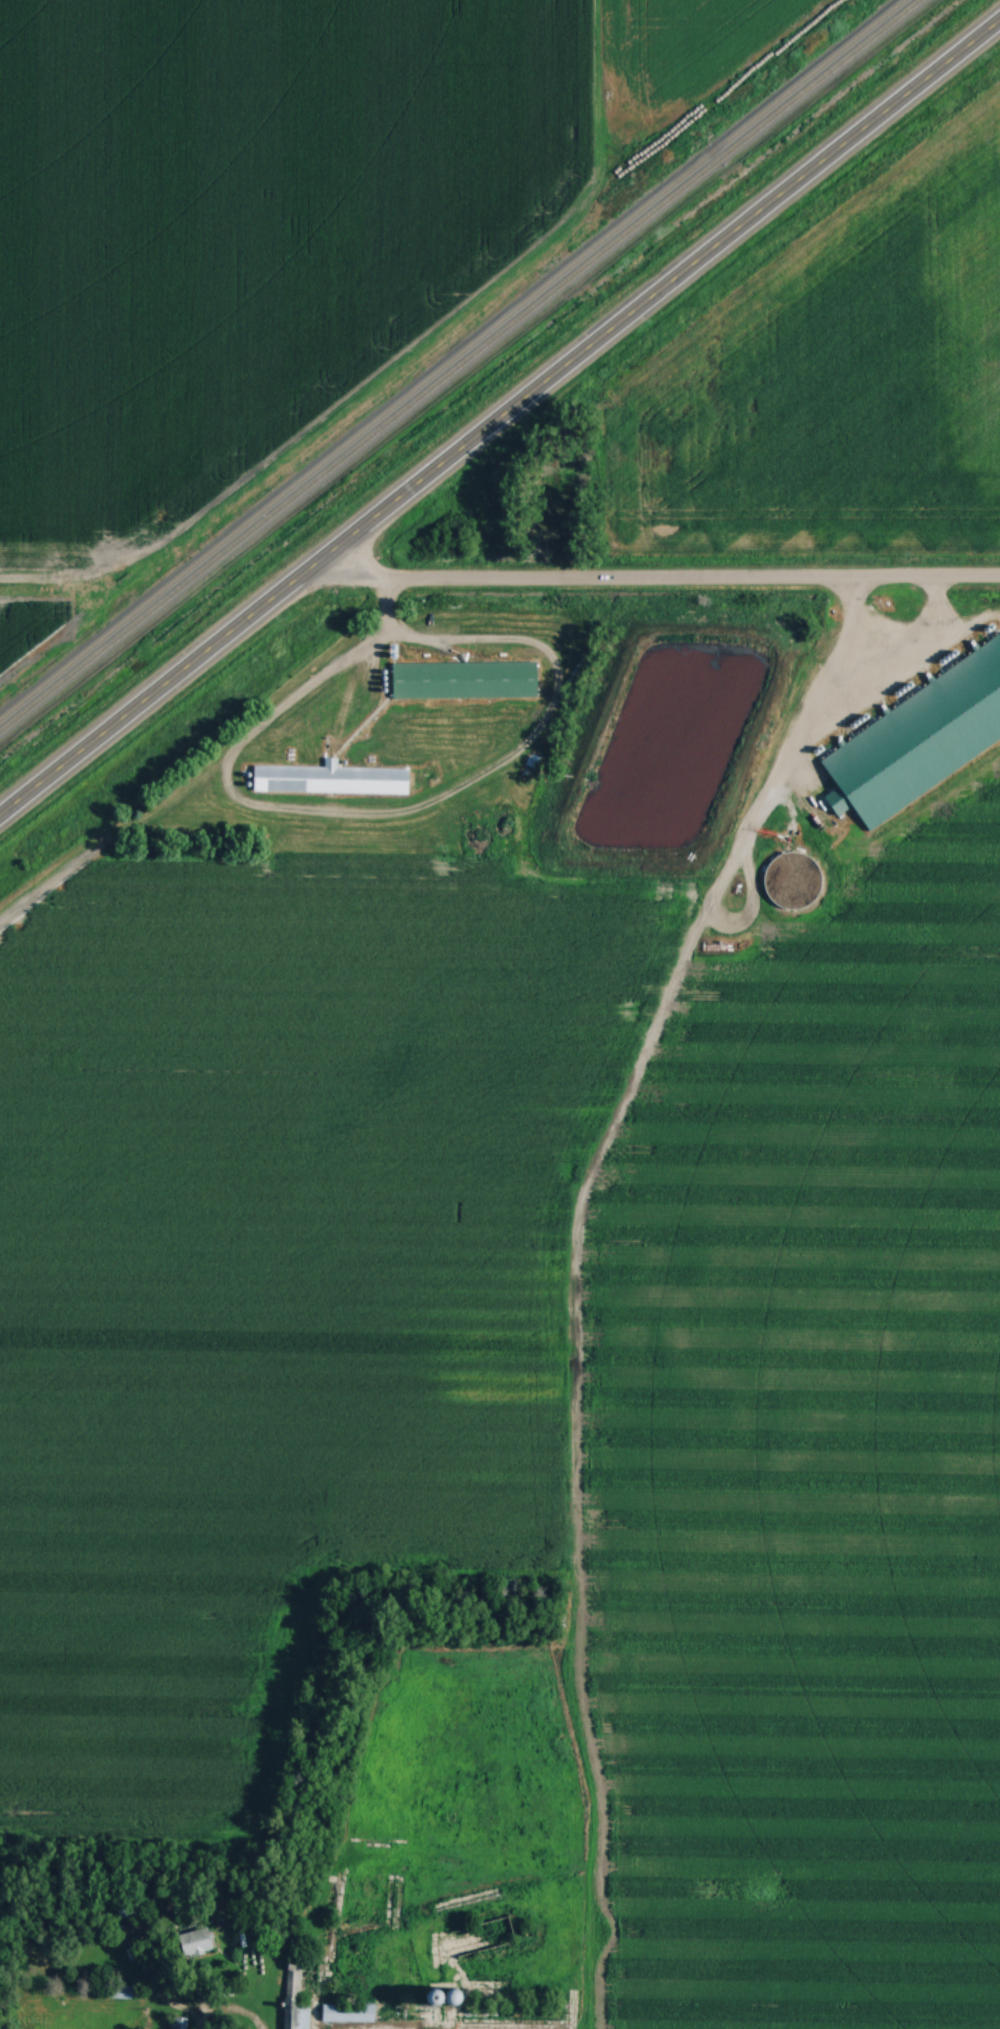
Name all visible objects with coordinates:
railway: (451, 358)
railway: (459, 365)
road: (499, 418)
road: (46, 577)
road: (658, 578)
road: (388, 602)
building: (465, 680)
building: (891, 719)
building: (930, 719)
building: (331, 779)
road: (374, 820)
road: (569, 1279)
building: (196, 1941)
building: (297, 1989)
building: (115, 1991)
road: (221, 2012)
building: (373, 2013)
building: (514, 2014)
building: (176, 2027)

